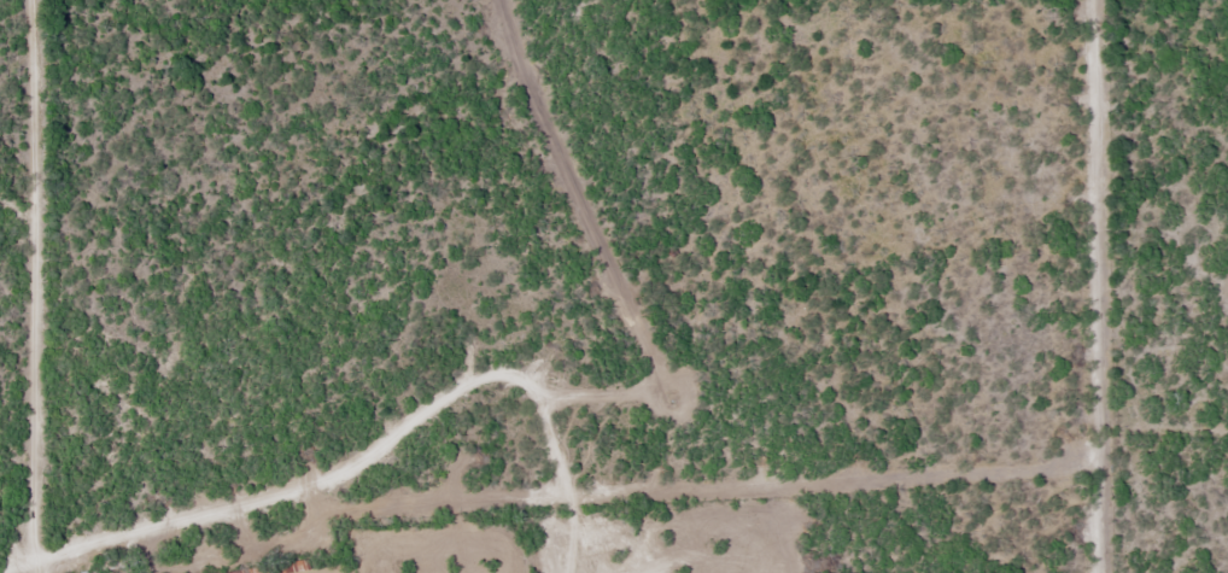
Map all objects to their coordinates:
road: (36, 286)

